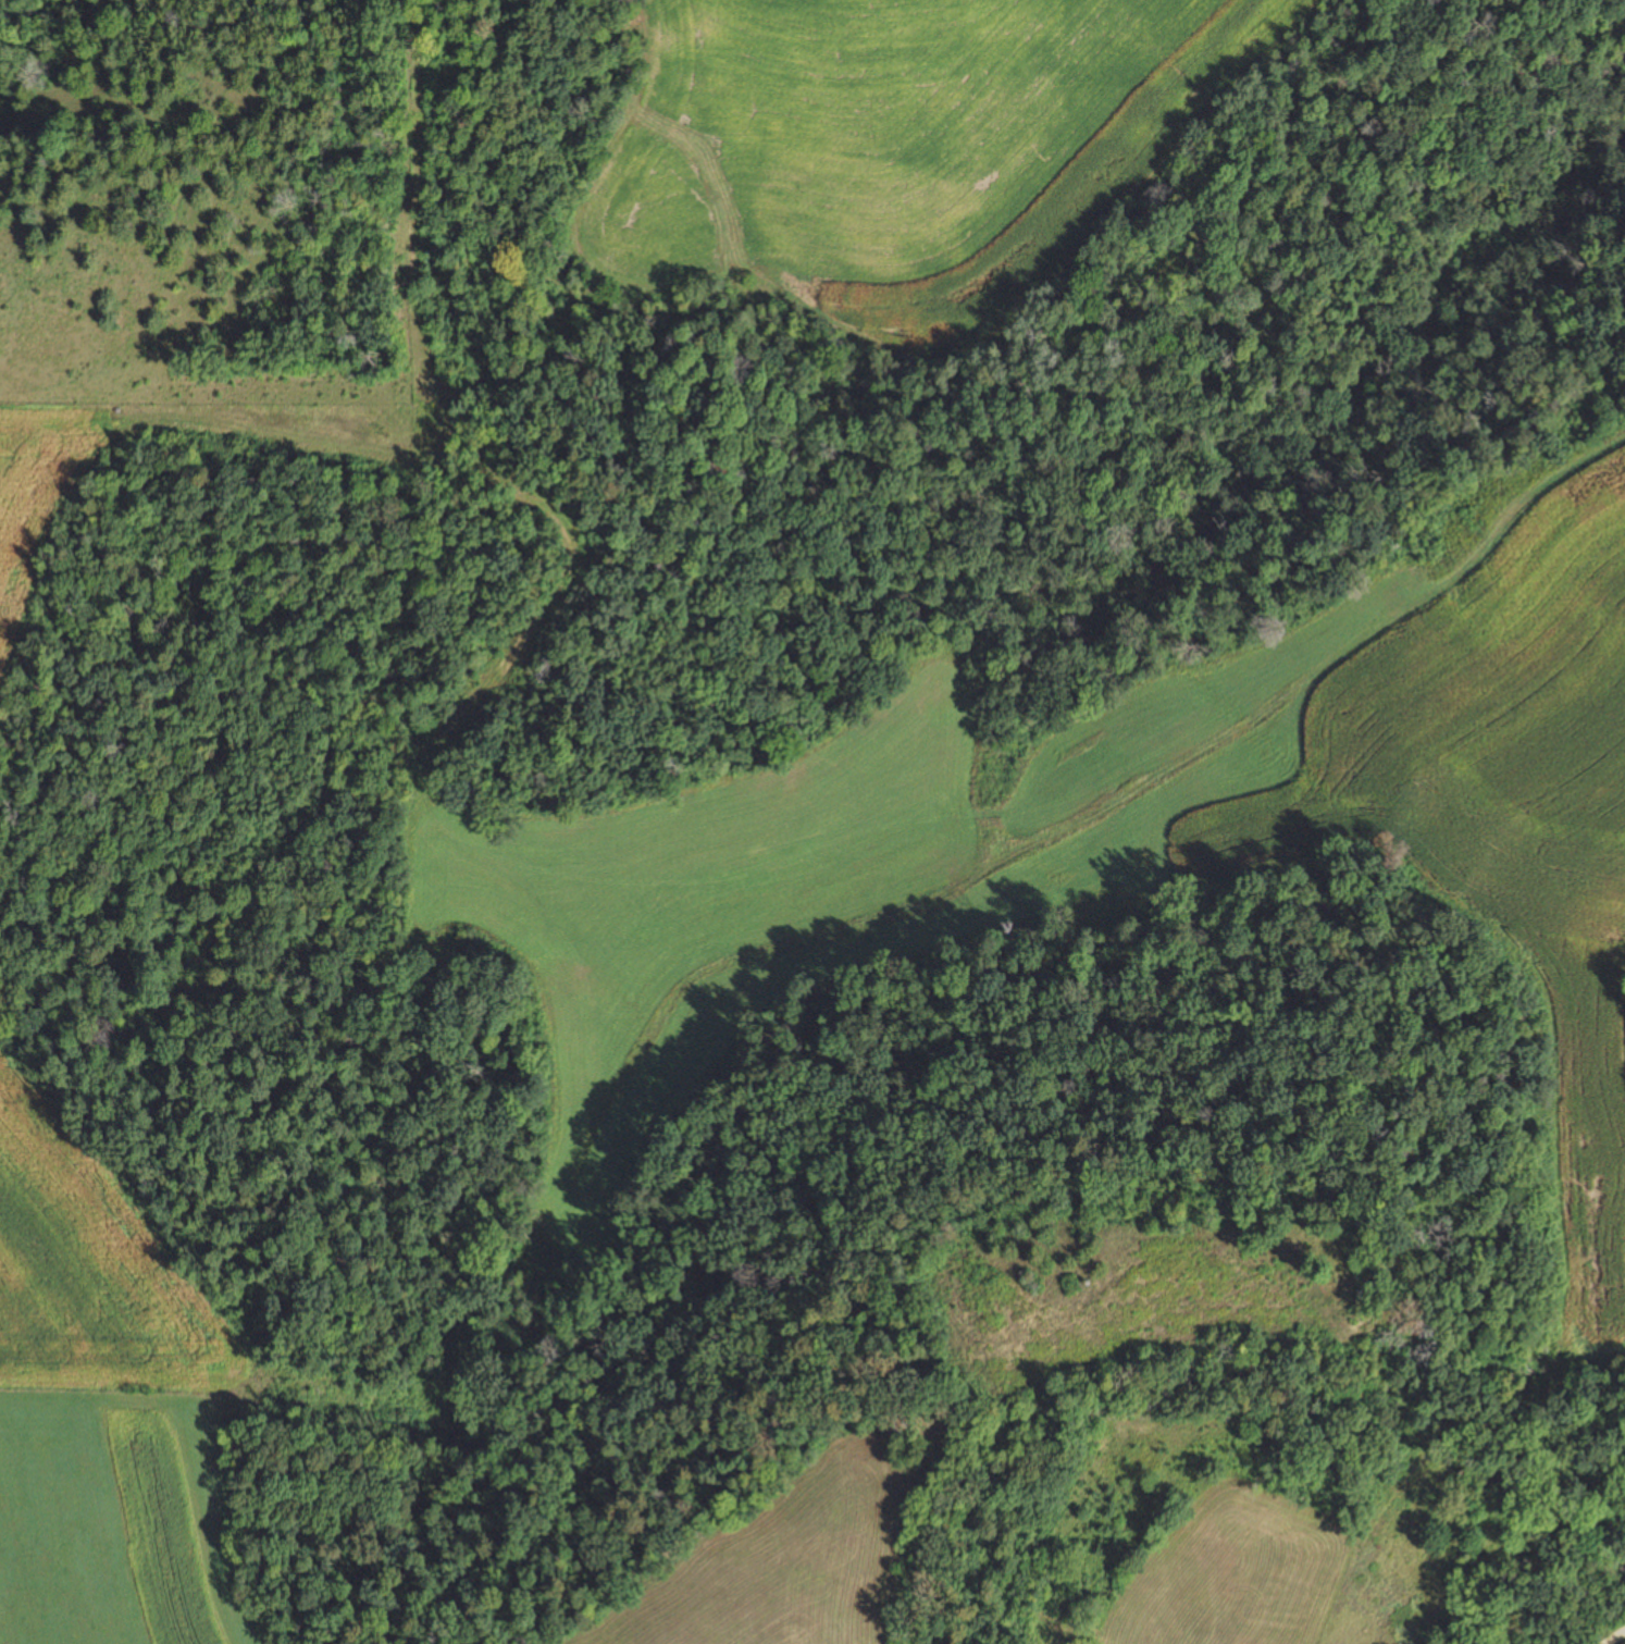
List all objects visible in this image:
road: (1617, 1639)

